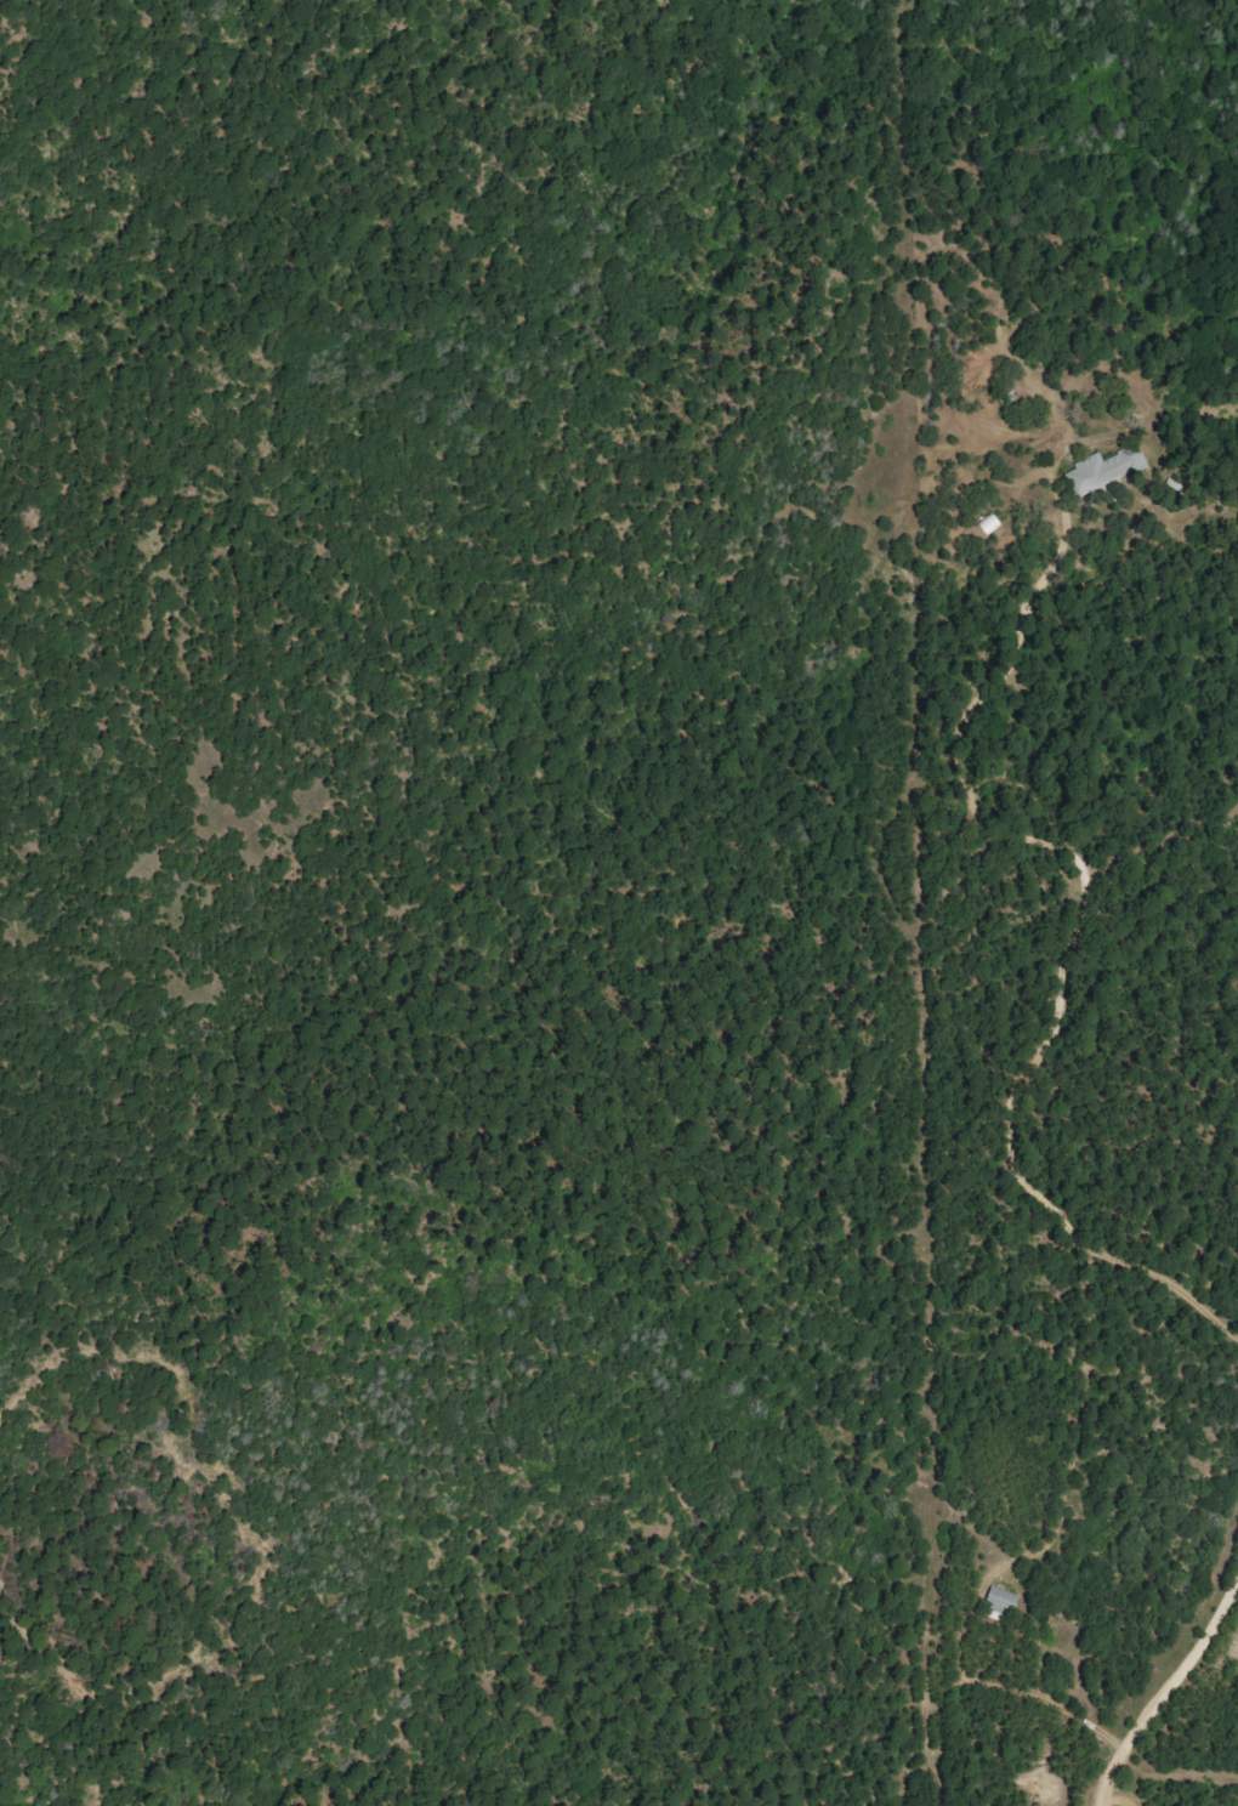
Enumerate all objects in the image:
building: (1106, 472)
building: (1001, 1605)
road: (1166, 1687)

